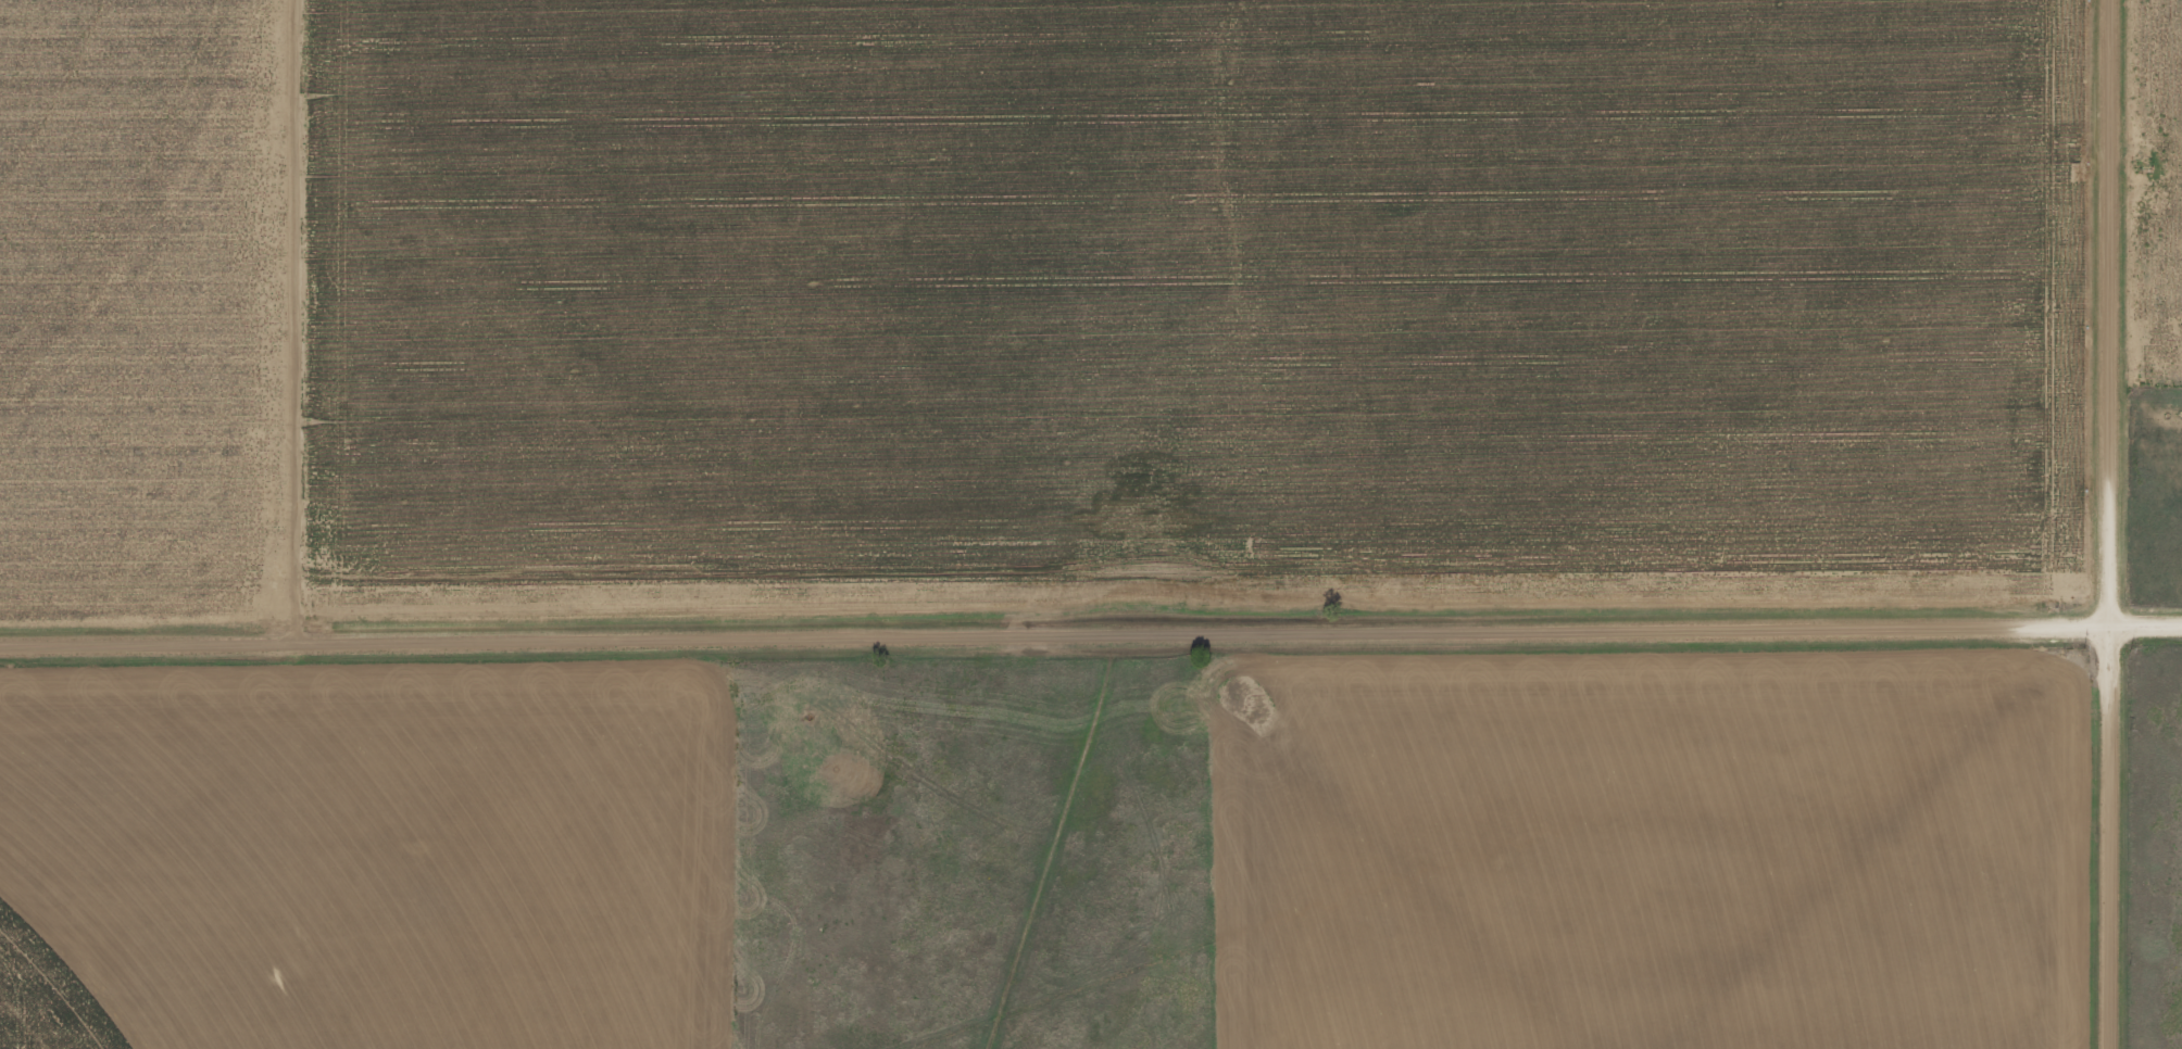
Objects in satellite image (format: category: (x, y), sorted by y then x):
crop: (2155, 187)
road: (2108, 523)
road: (1090, 630)

